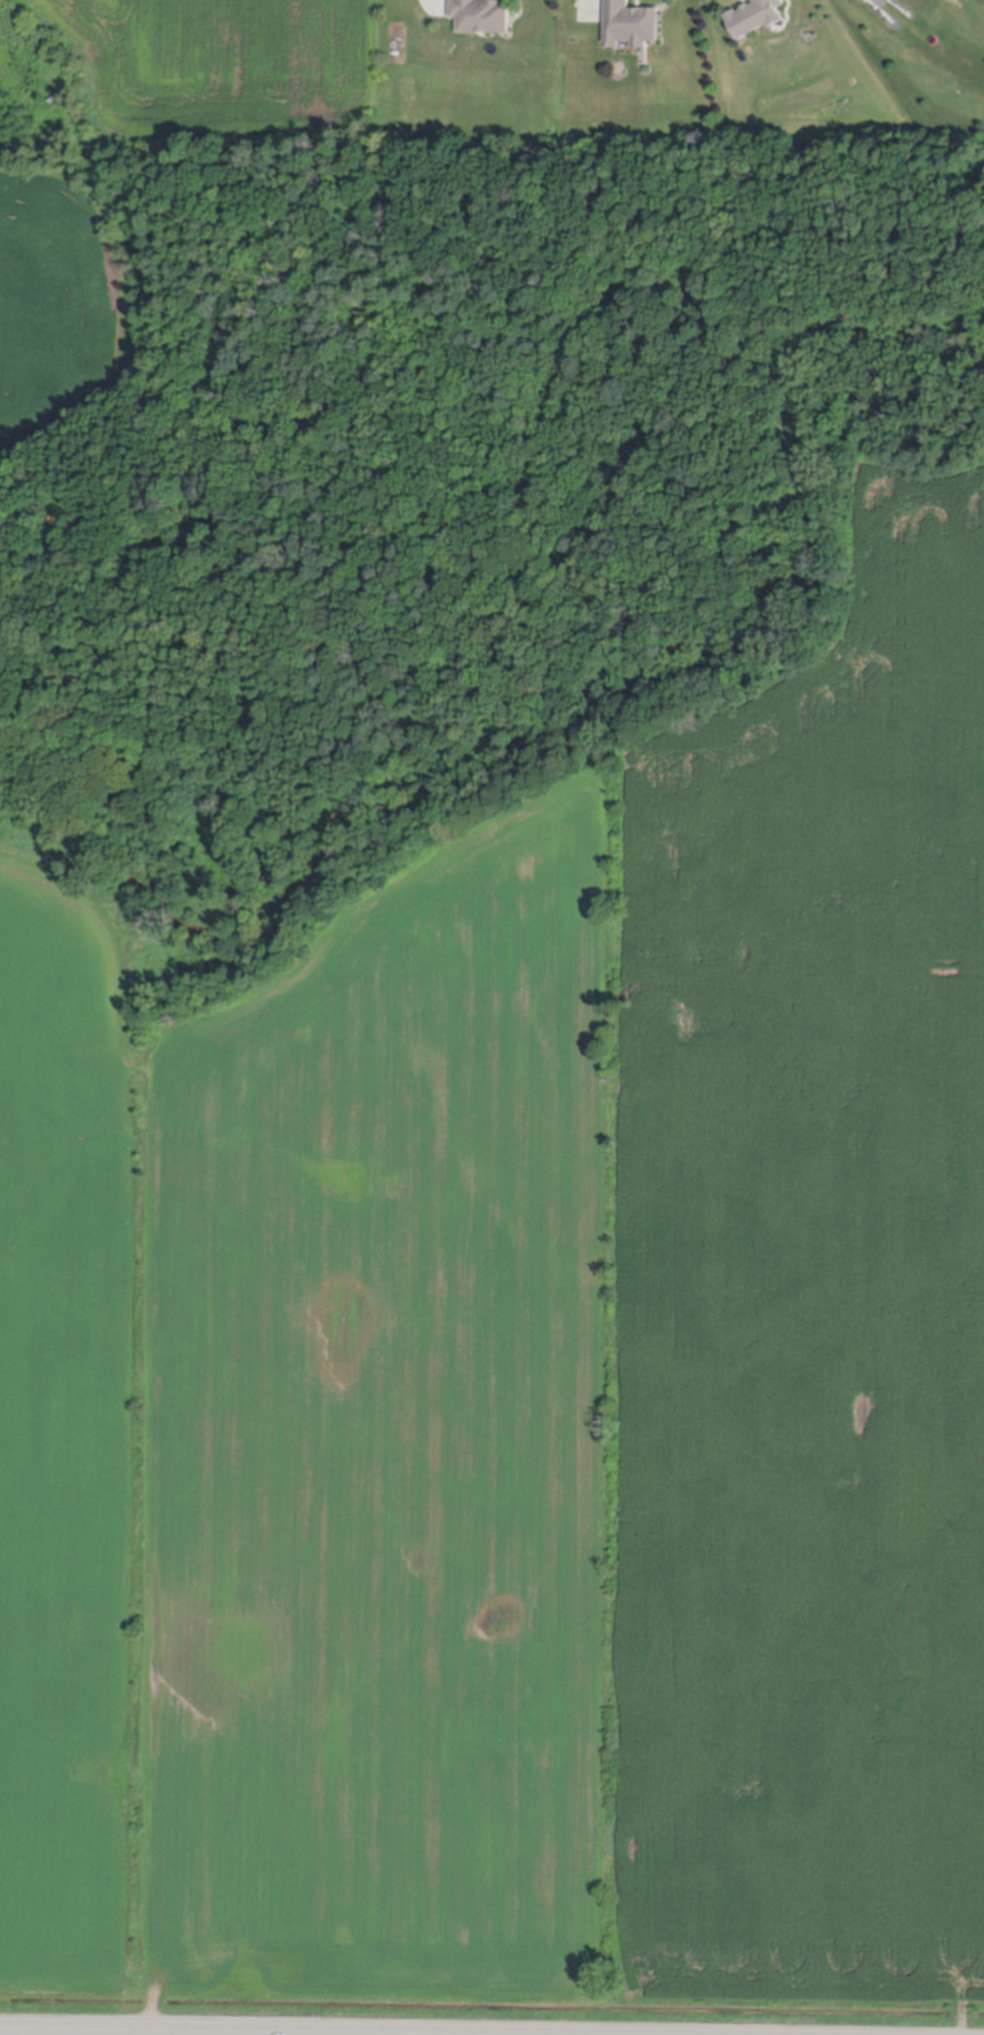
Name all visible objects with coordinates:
building: (868, 1)
building: (480, 17)
building: (757, 18)
building: (631, 26)
road: (244, 2032)
road: (315, 2034)

